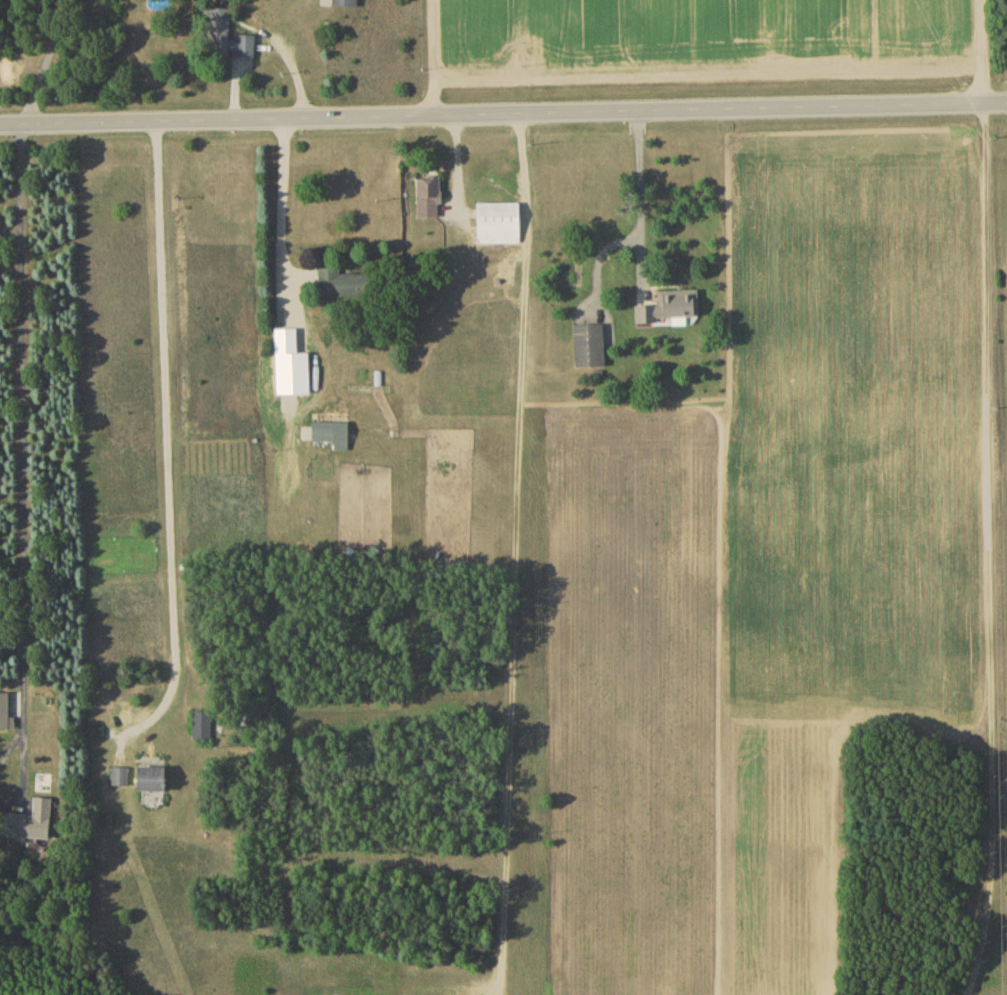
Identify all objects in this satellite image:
building: (346, 5)
building: (229, 39)
road: (982, 51)
road: (432, 58)
road: (47, 61)
road: (503, 114)
road: (283, 193)
road: (639, 195)
building: (431, 197)
building: (500, 226)
building: (347, 287)
building: (671, 311)
building: (288, 345)
building: (591, 350)
road: (24, 425)
building: (326, 435)
road: (166, 443)
building: (202, 729)
road: (13, 744)
road: (26, 775)
building: (120, 781)
building: (155, 783)
building: (31, 825)

